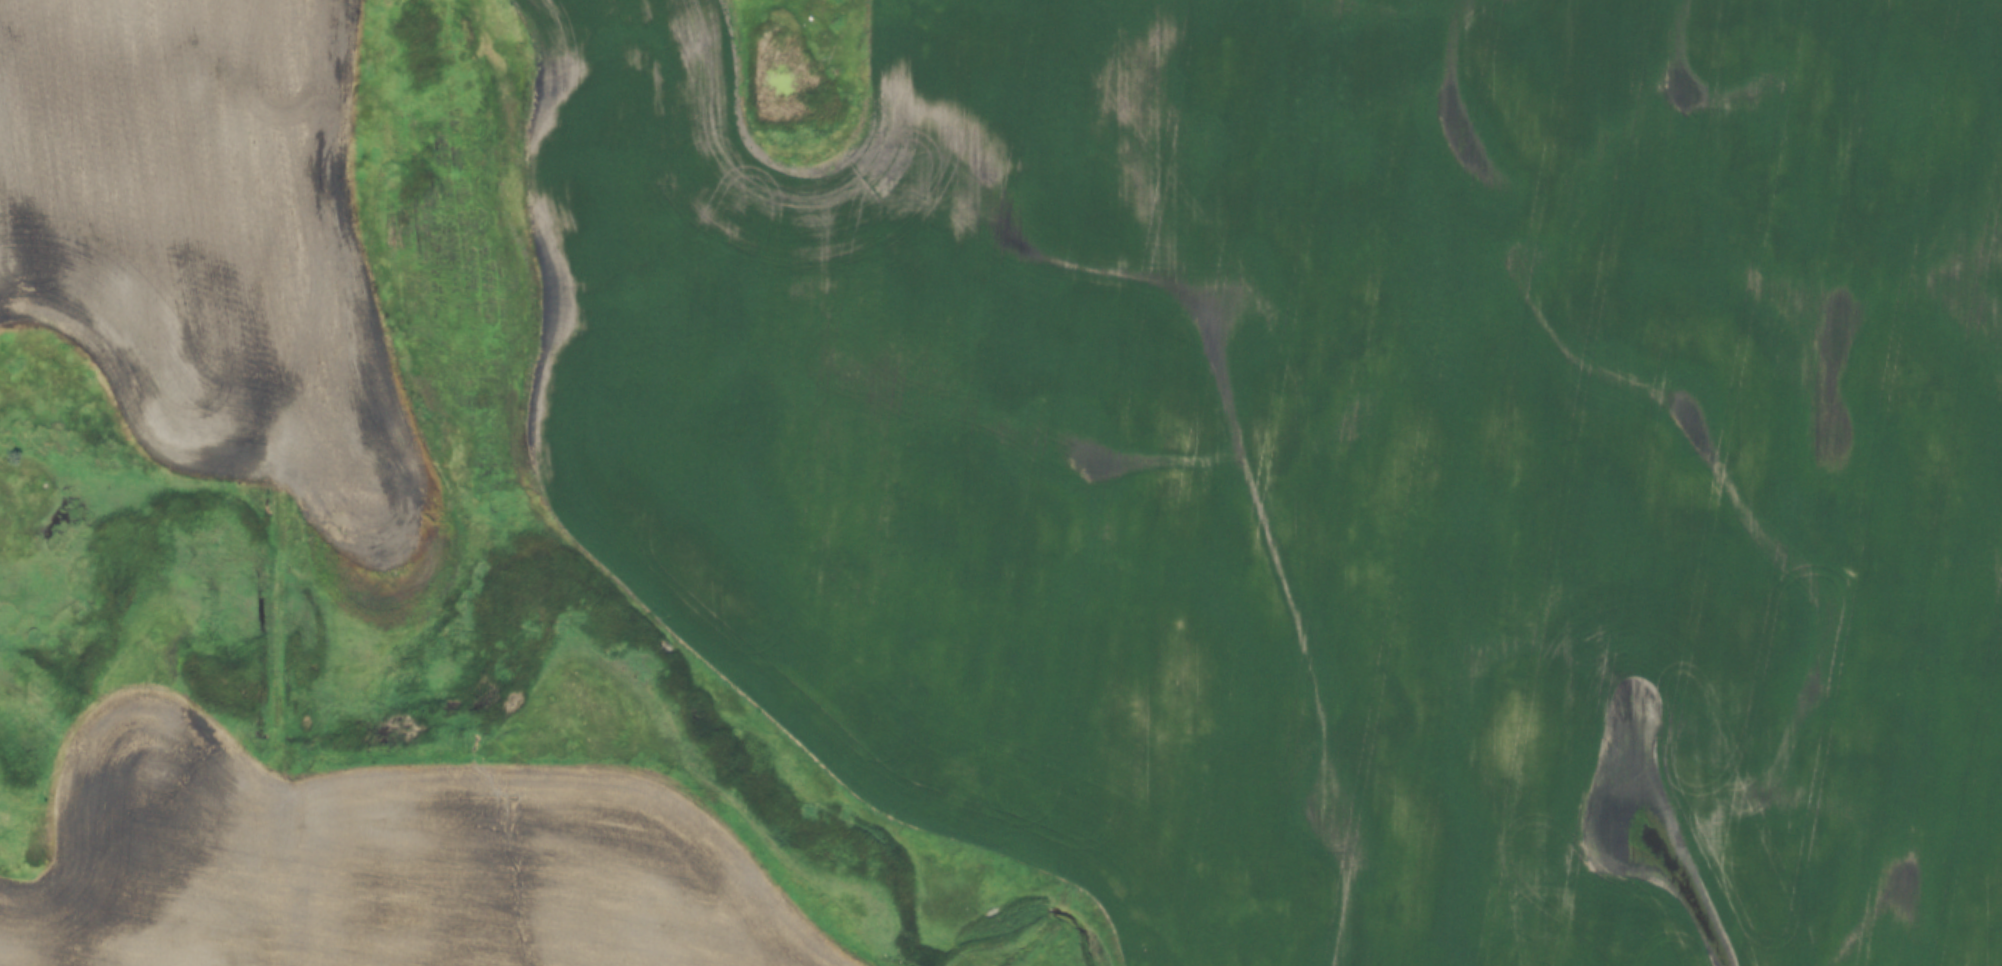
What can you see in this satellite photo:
road: (282, 714)

